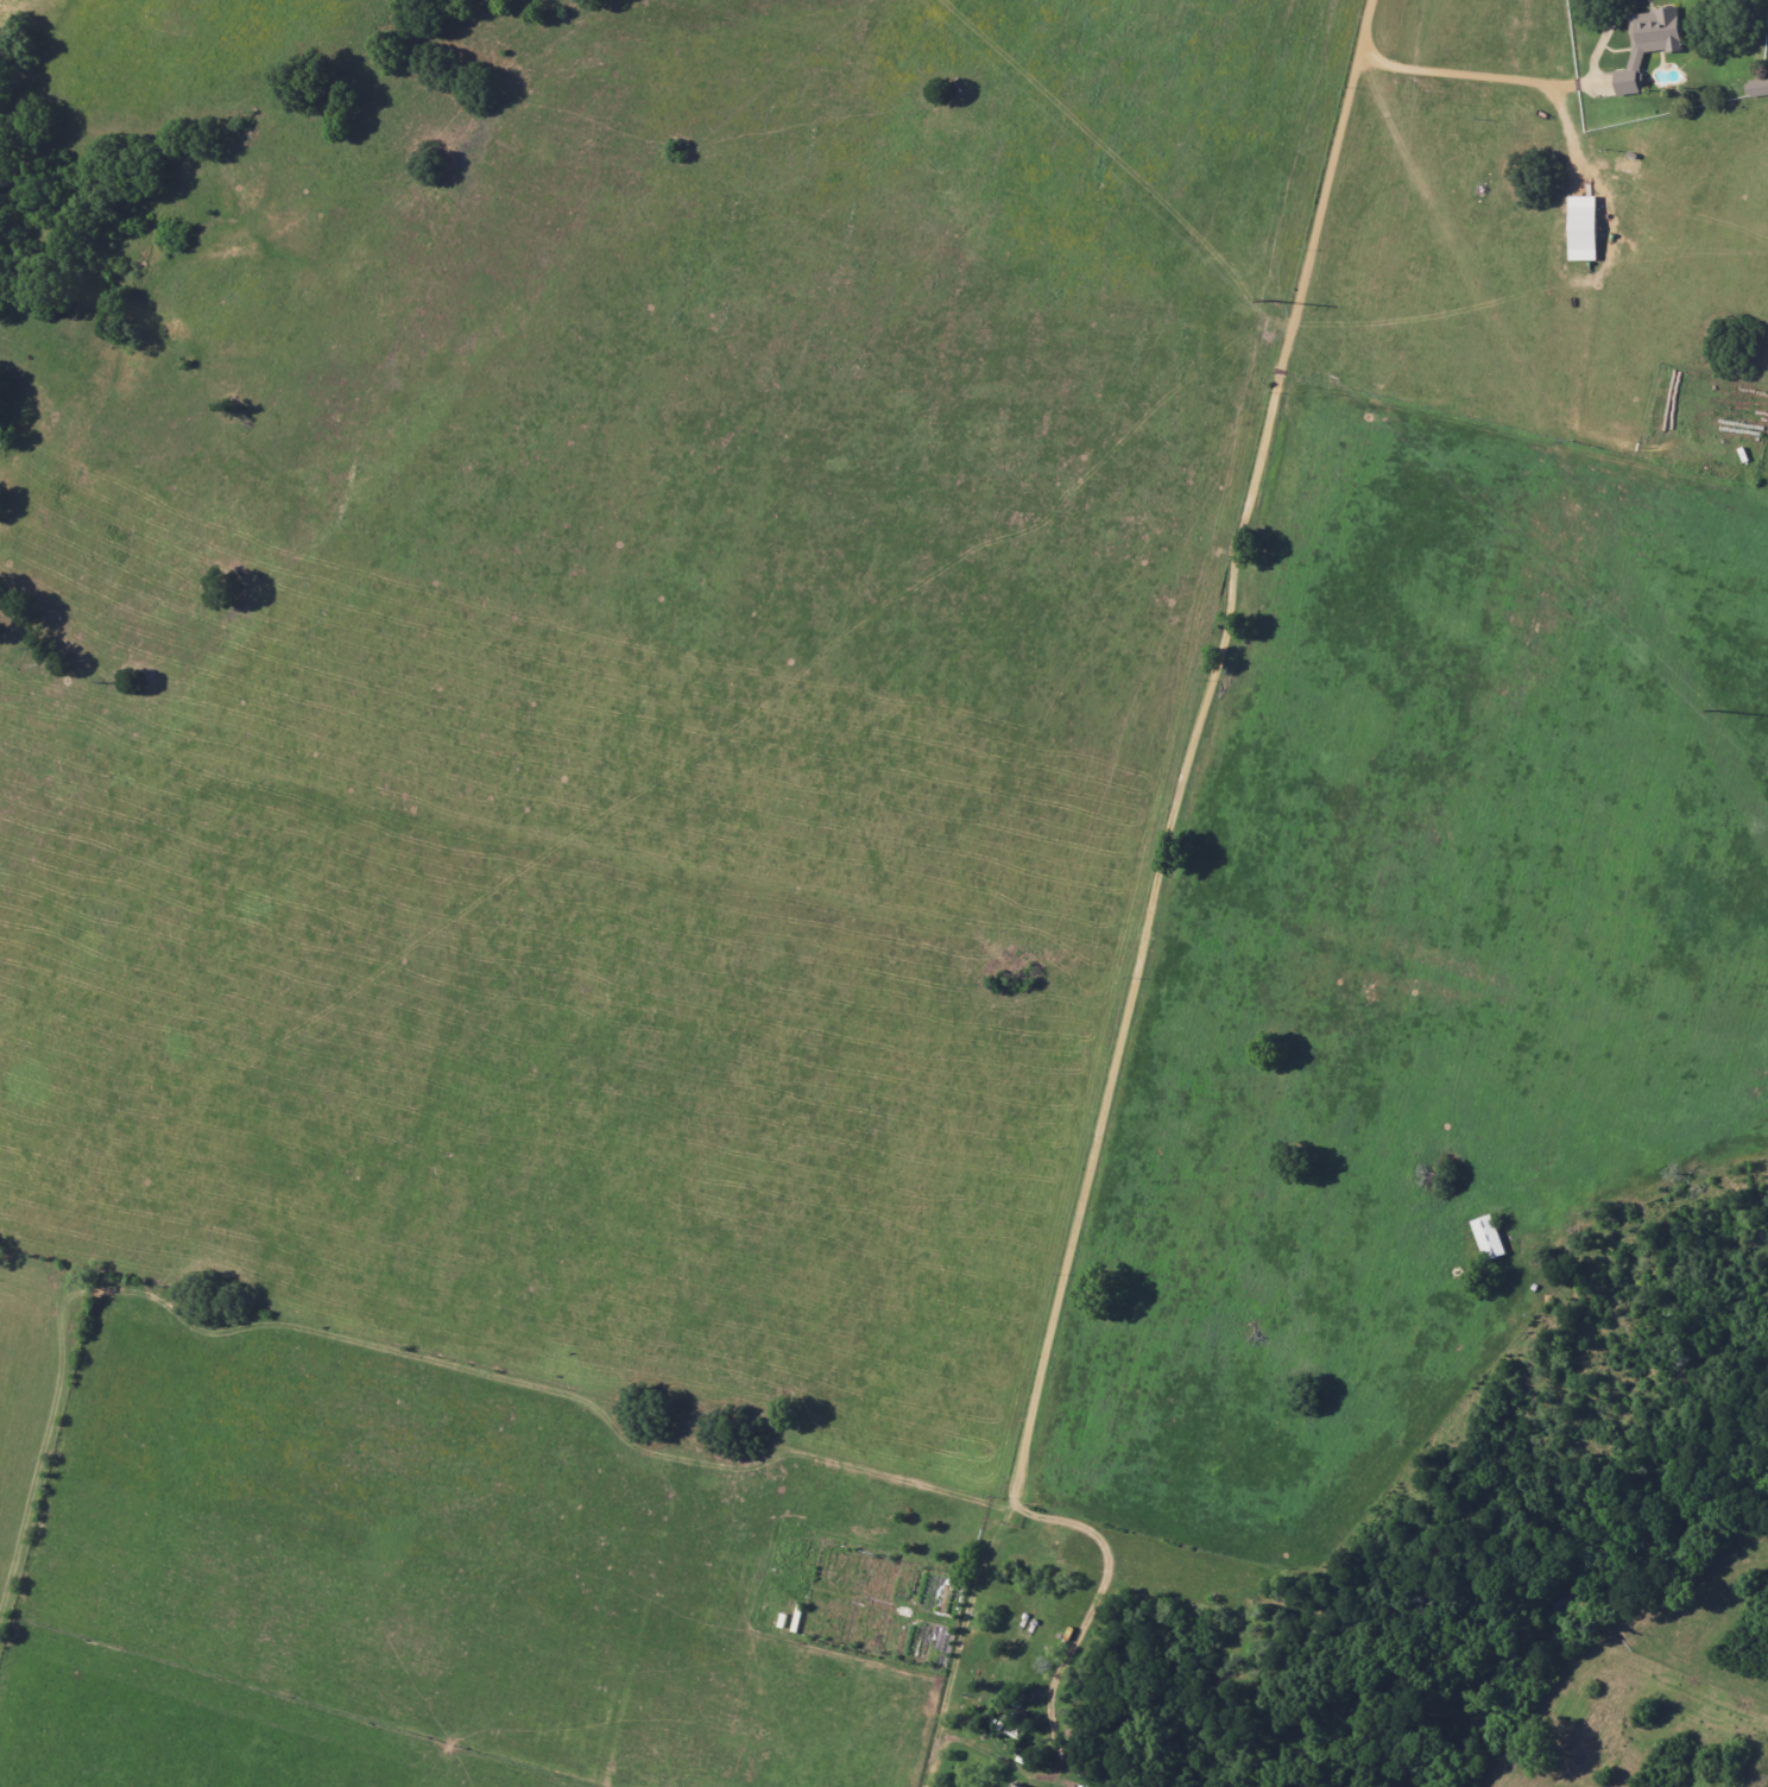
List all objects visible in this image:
building: (1649, 42)
road: (1514, 78)
building: (1585, 227)
power tower: (1273, 301)
power tower: (1719, 713)
road: (1191, 751)
building: (1489, 1236)
road: (975, 1580)
road: (1082, 1621)

